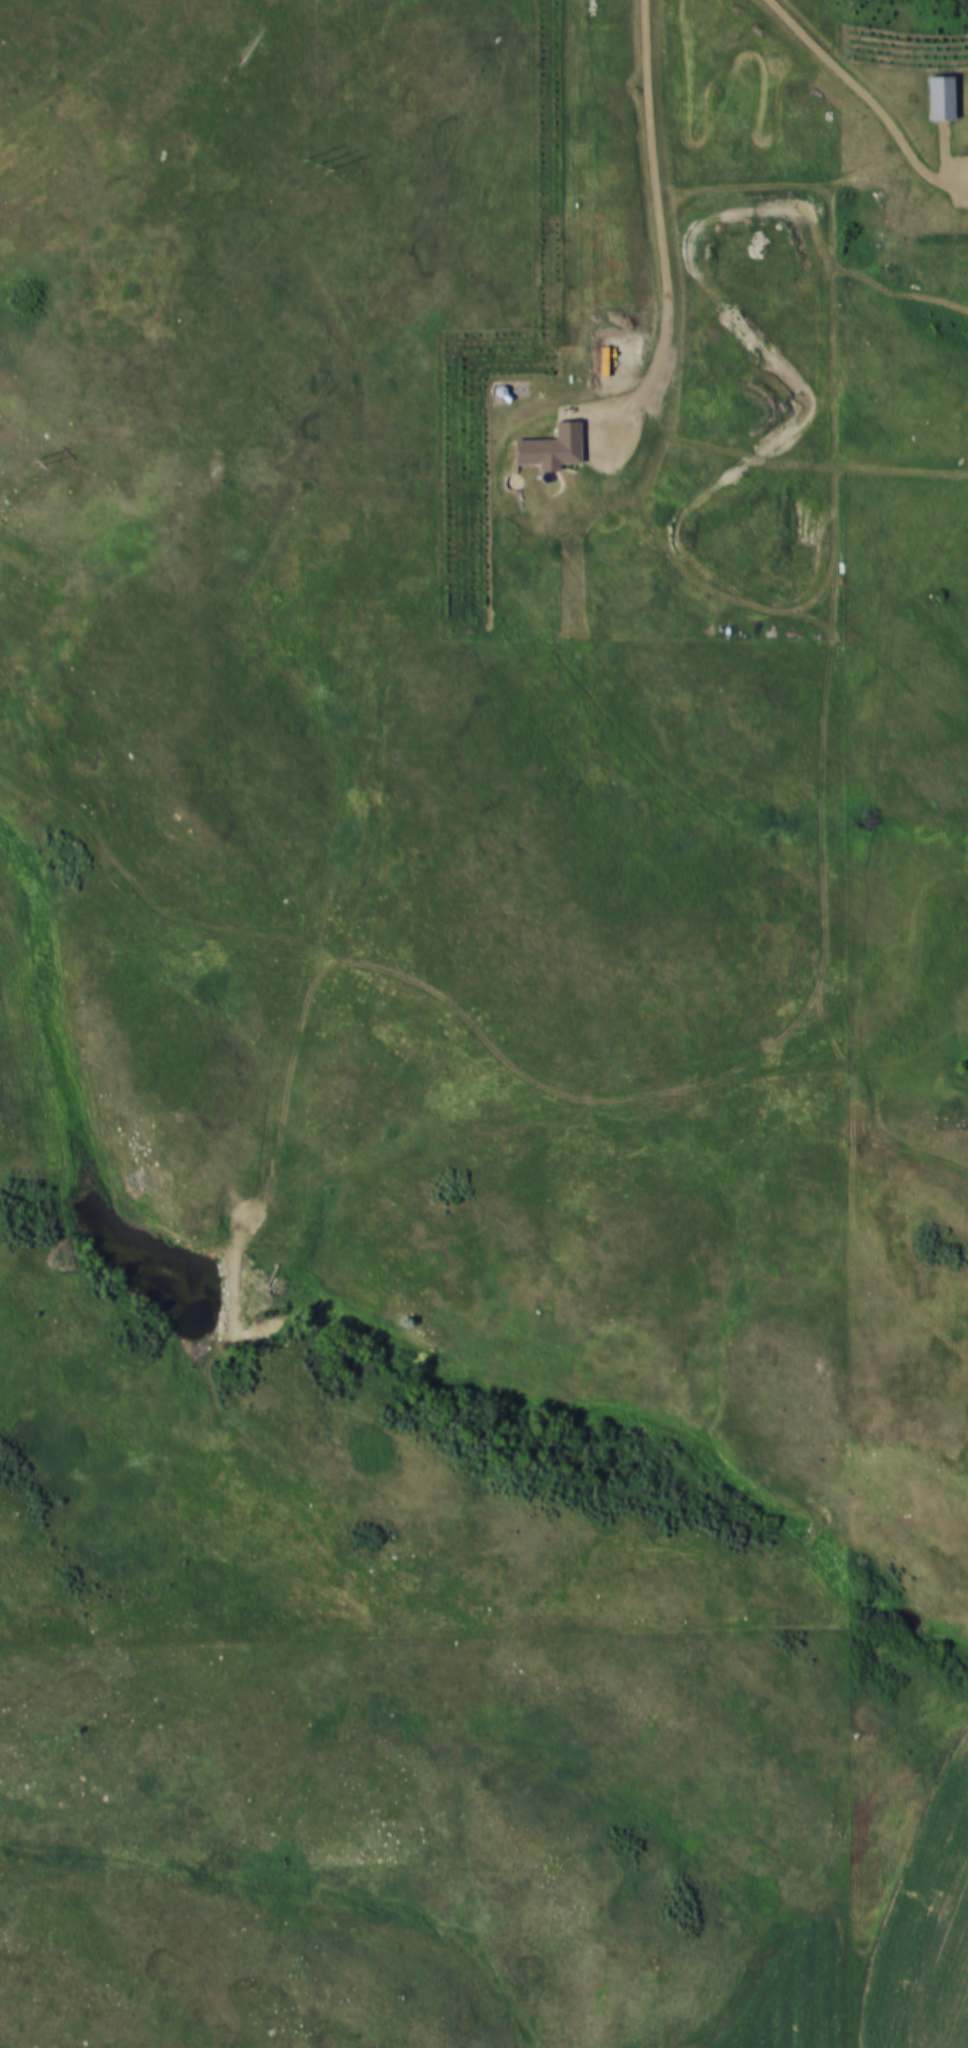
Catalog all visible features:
power tower: (322, 163)
power tower: (44, 462)
road: (481, 1029)

